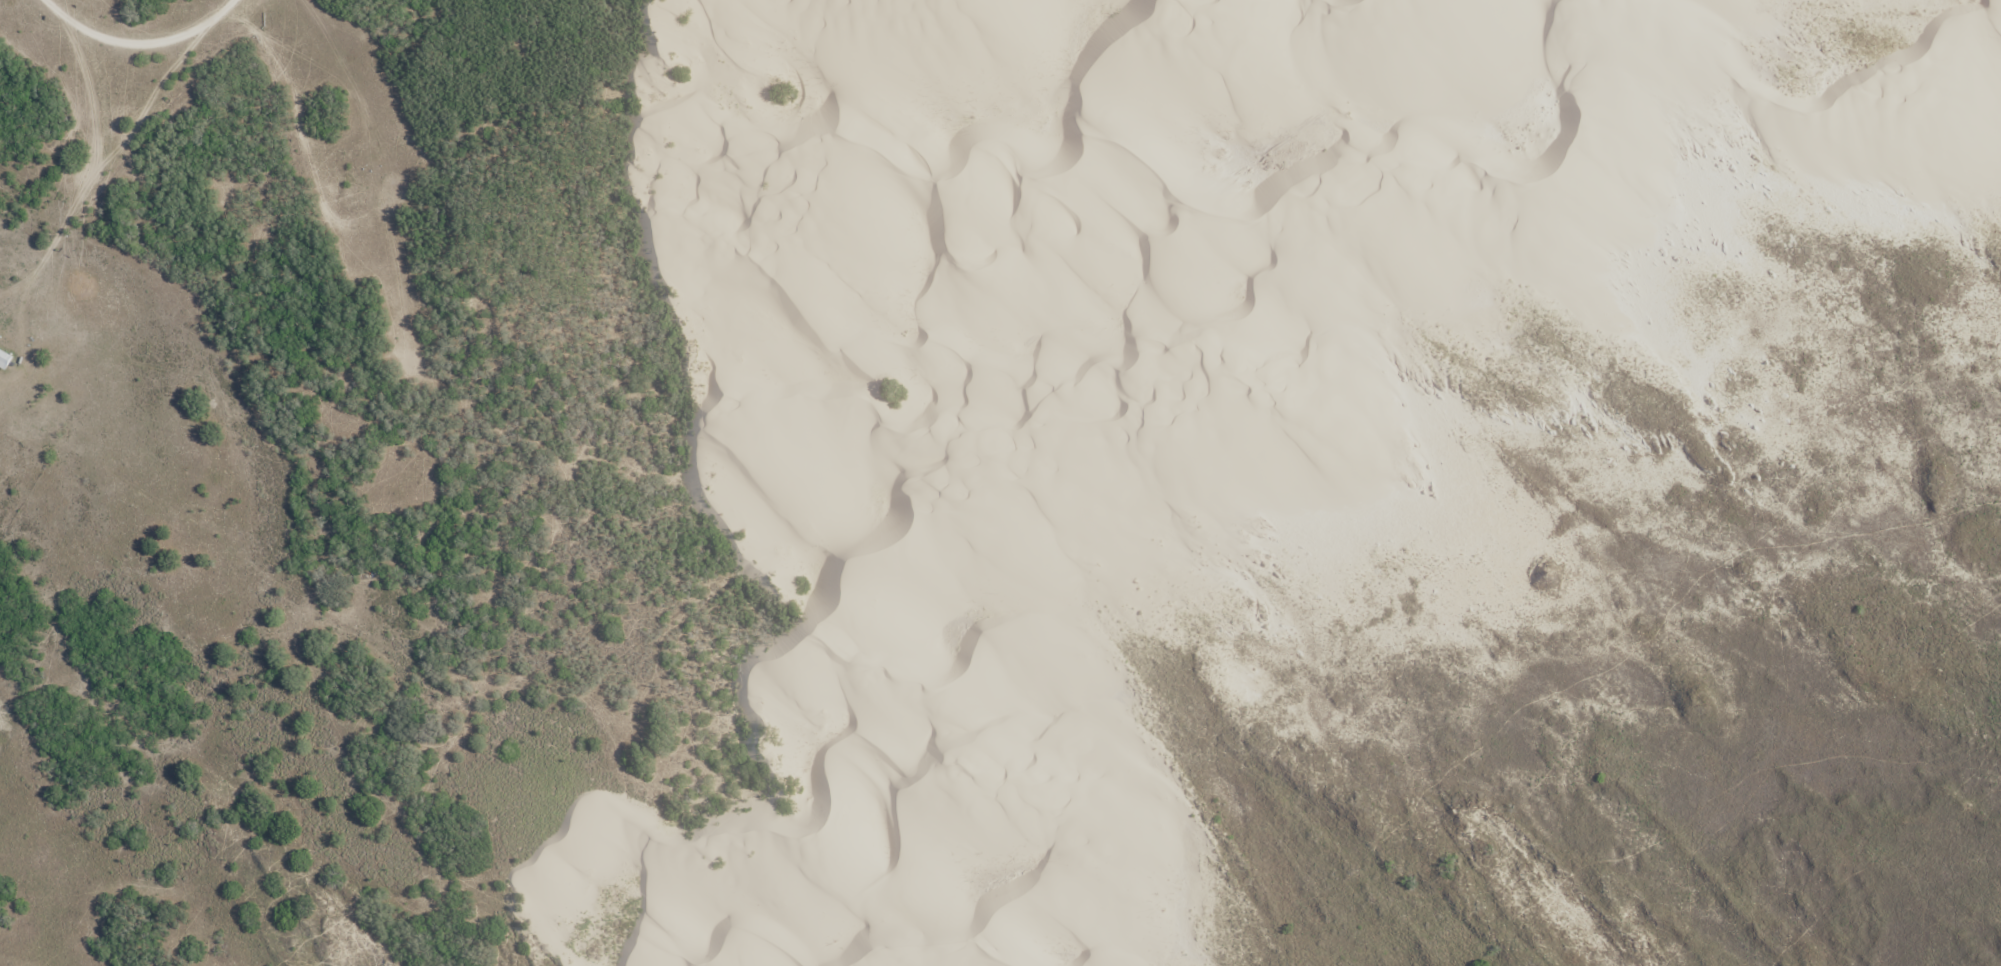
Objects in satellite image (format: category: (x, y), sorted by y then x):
road: (129, 27)
building: (344, 194)
building: (4, 360)
road: (778, 585)

